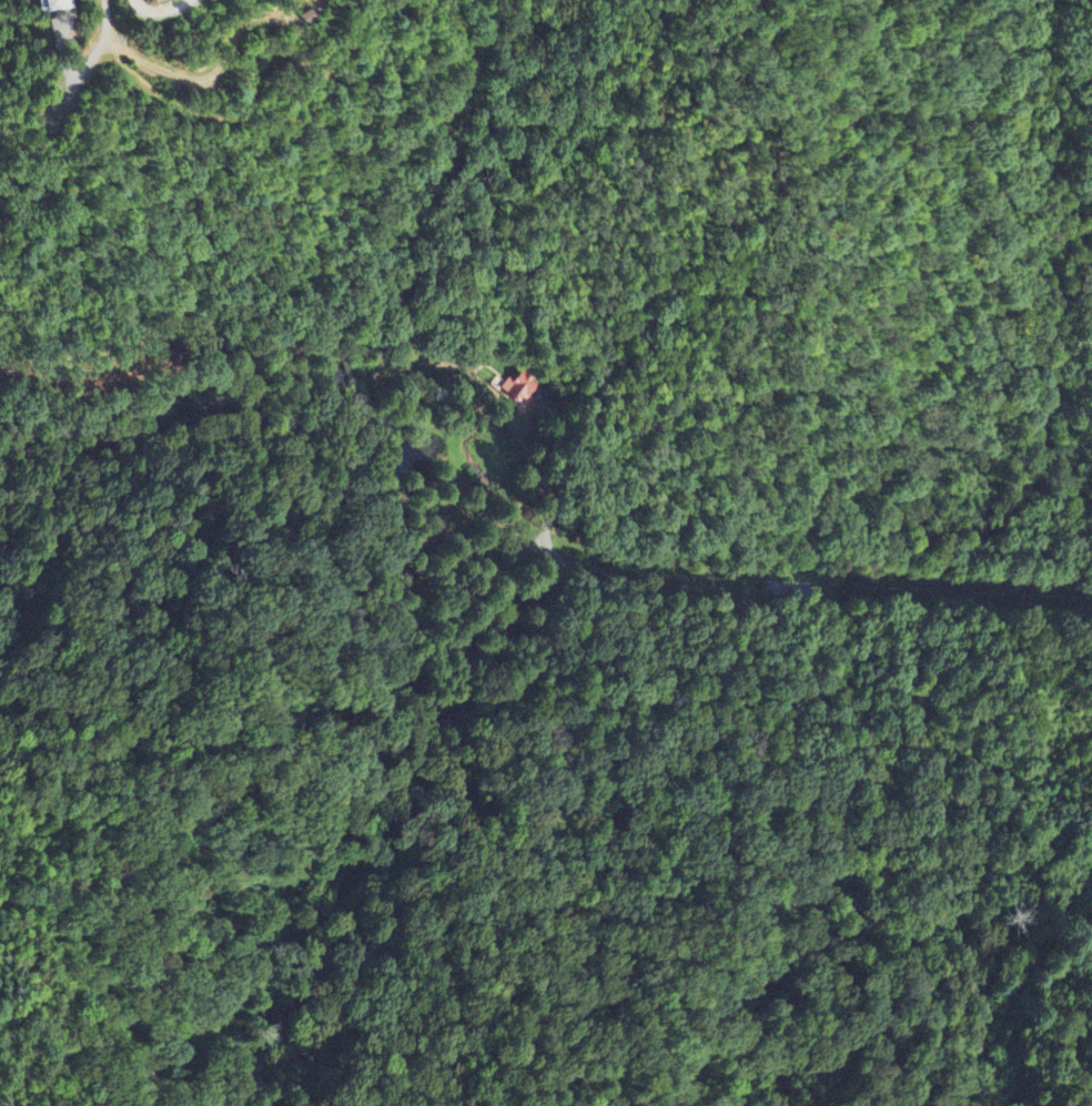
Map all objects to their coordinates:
building: (159, 1)
building: (53, 6)
building: (516, 387)
road: (93, 972)

